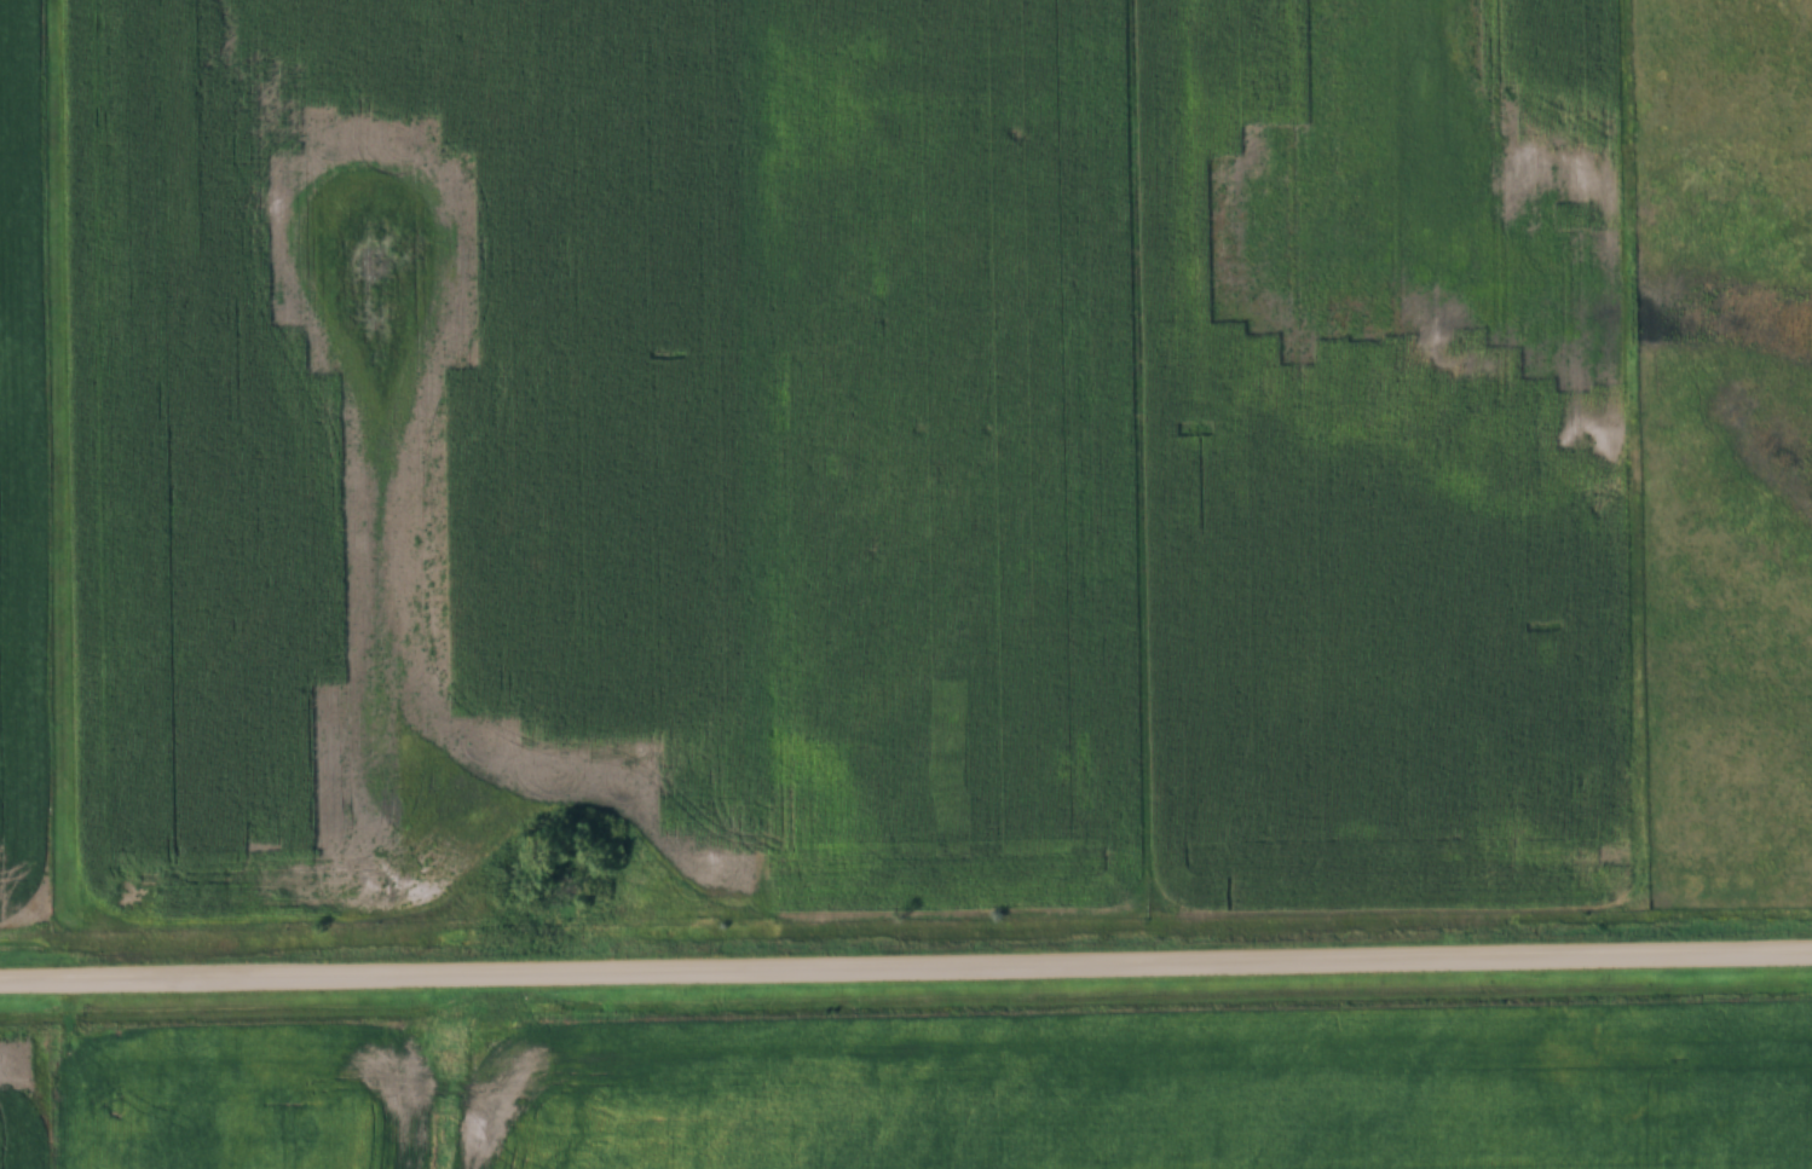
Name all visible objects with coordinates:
road: (906, 968)

